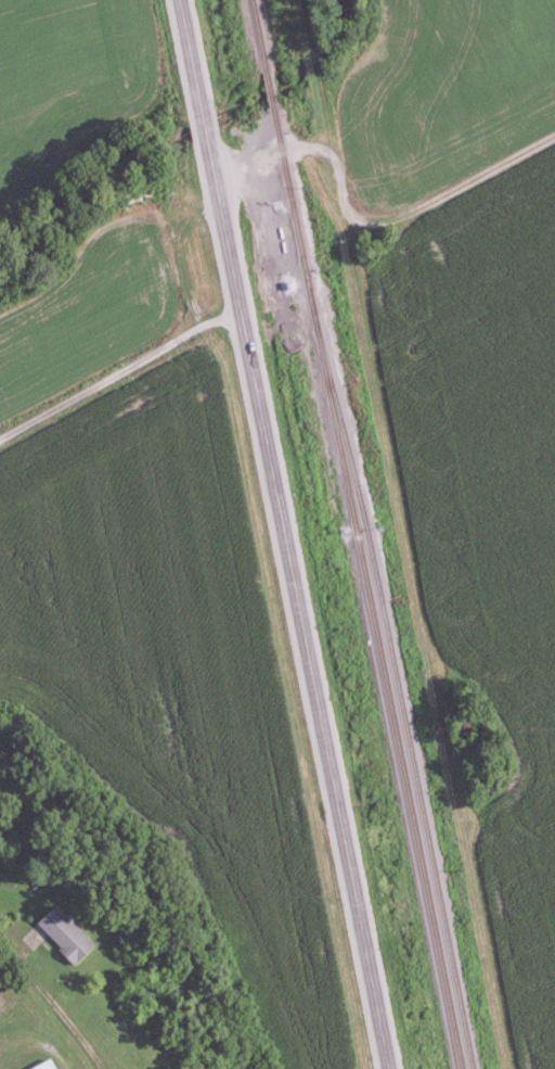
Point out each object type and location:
railway: (281, 149)
road: (314, 151)
road: (117, 371)
road: (281, 534)
railway: (397, 683)
railway: (384, 684)
building: (59, 932)
road: (52, 1011)
building: (39, 1065)

